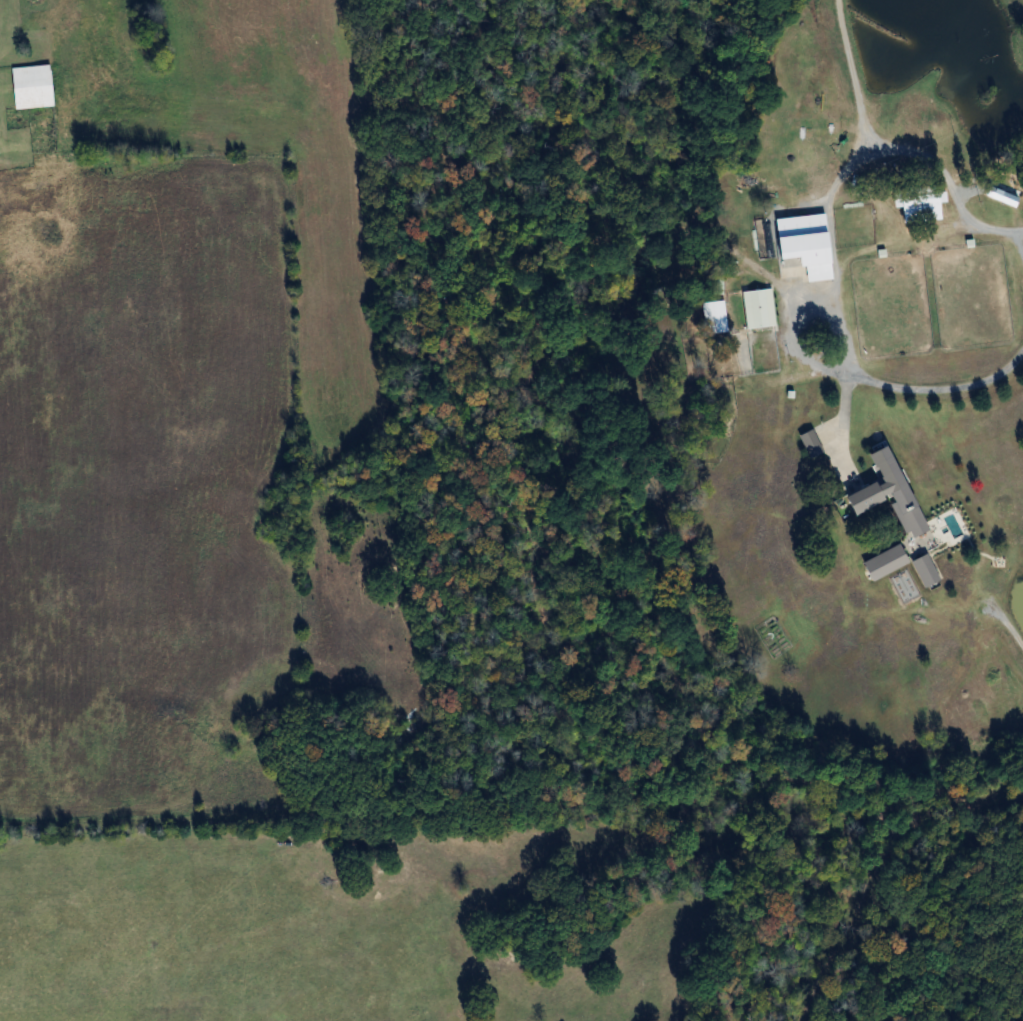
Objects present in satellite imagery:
building: (29, 88)
road: (471, 116)
building: (917, 210)
building: (789, 219)
building: (803, 255)
building: (756, 310)
building: (714, 319)
building: (883, 491)
building: (882, 564)
building: (922, 572)

